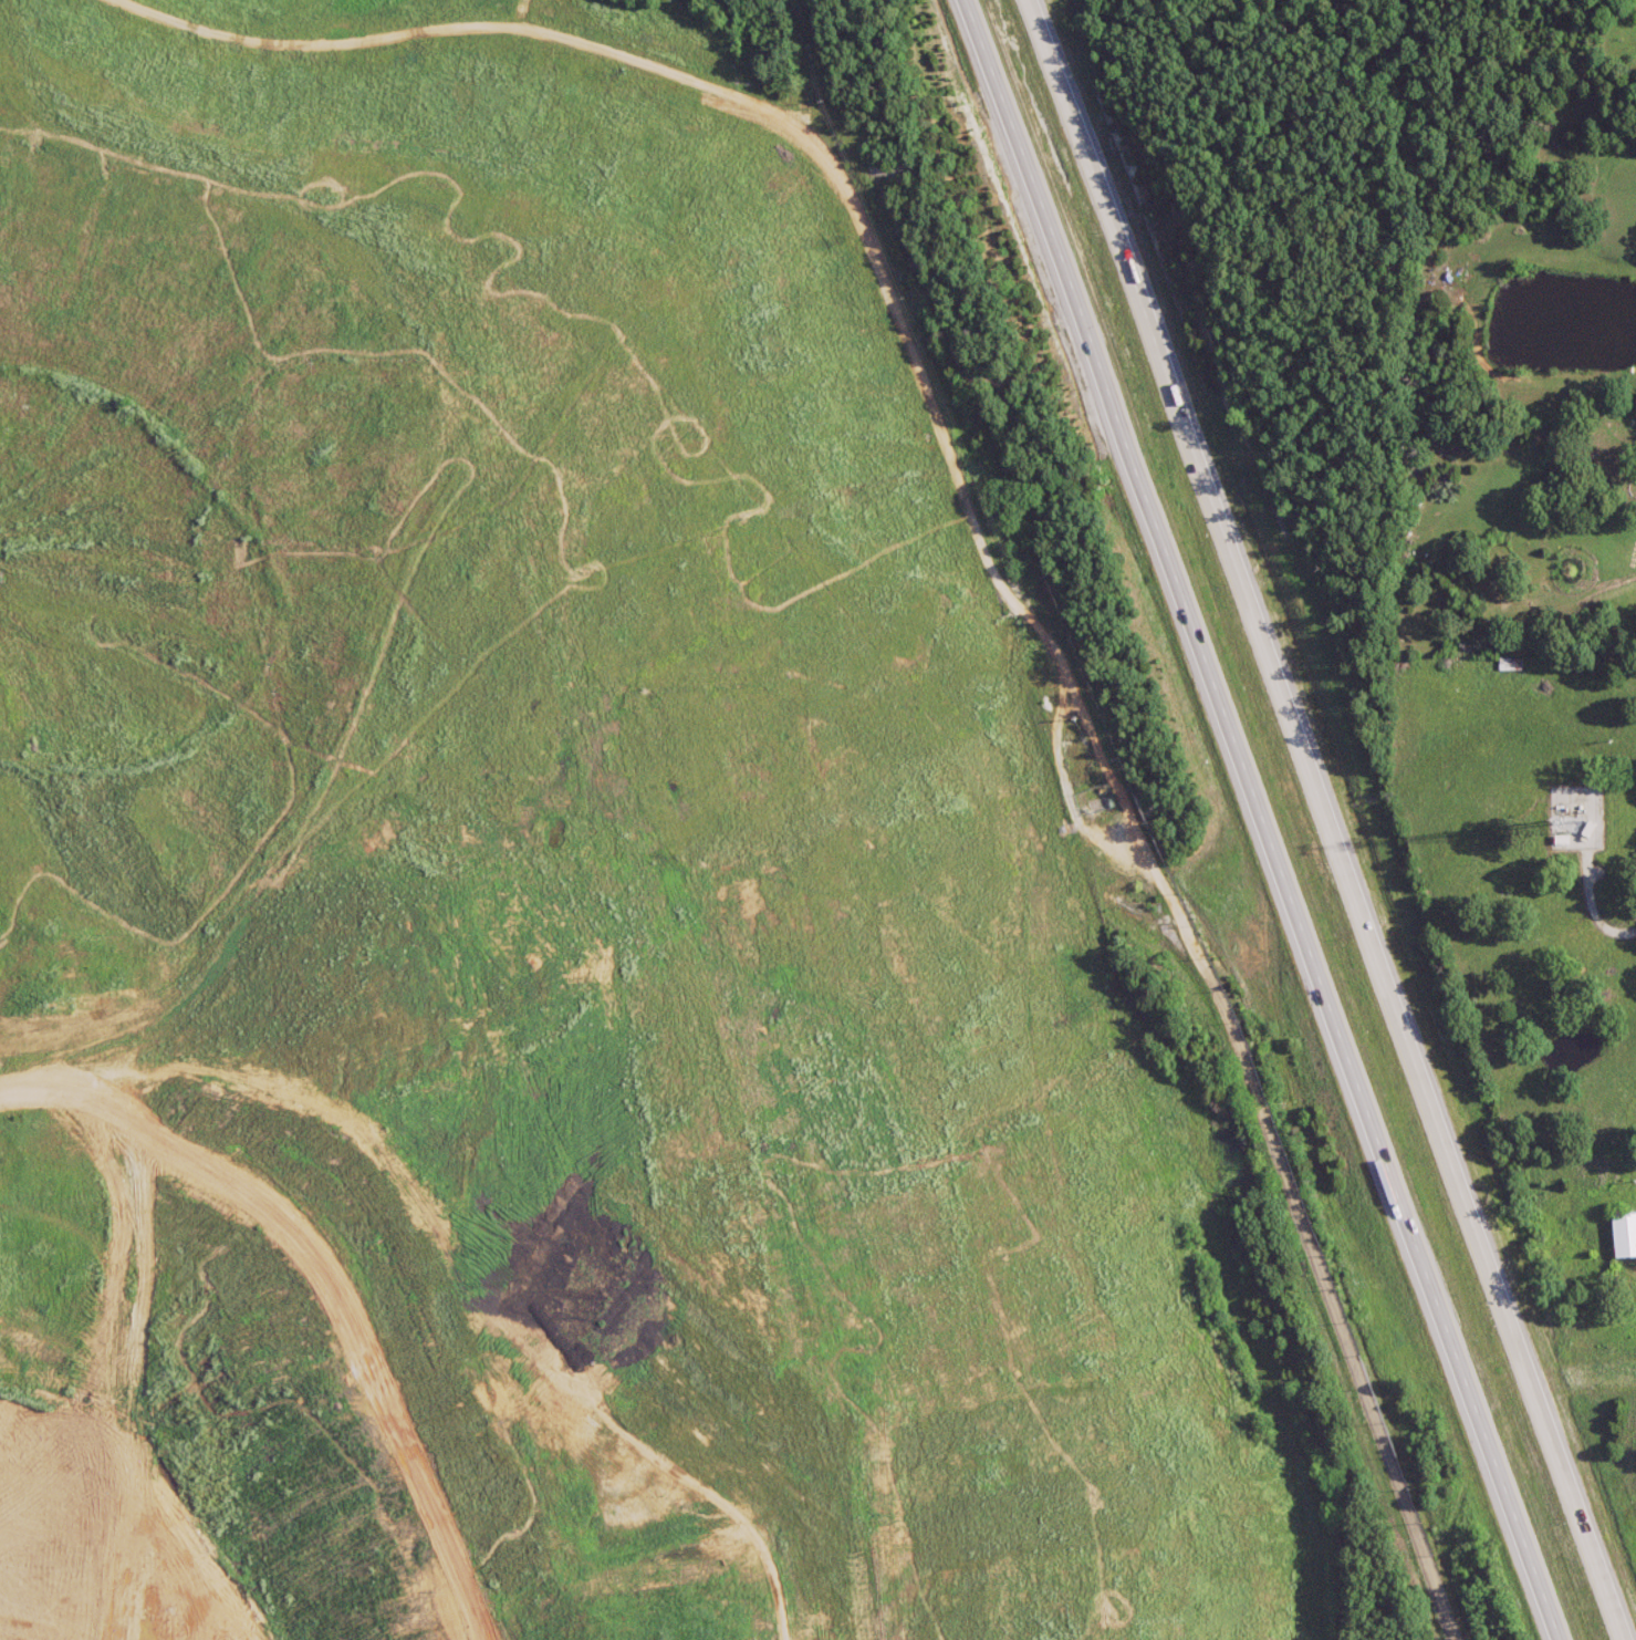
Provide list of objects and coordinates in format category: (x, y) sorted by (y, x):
road: (1259, 820)
road: (1338, 820)
road: (977, 886)
building: (1623, 1235)

